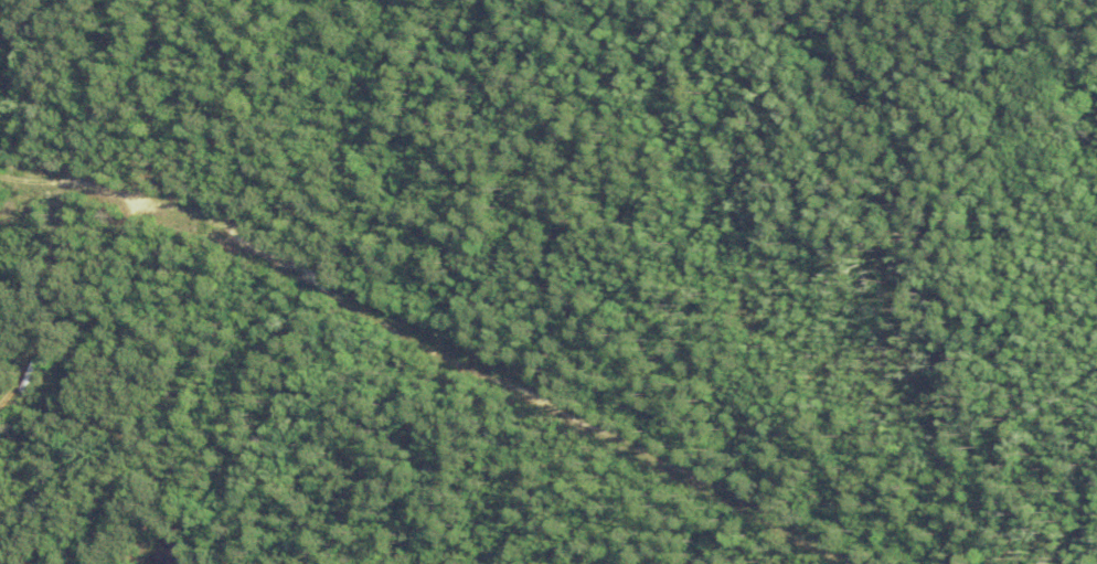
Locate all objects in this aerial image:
building: (26, 380)

